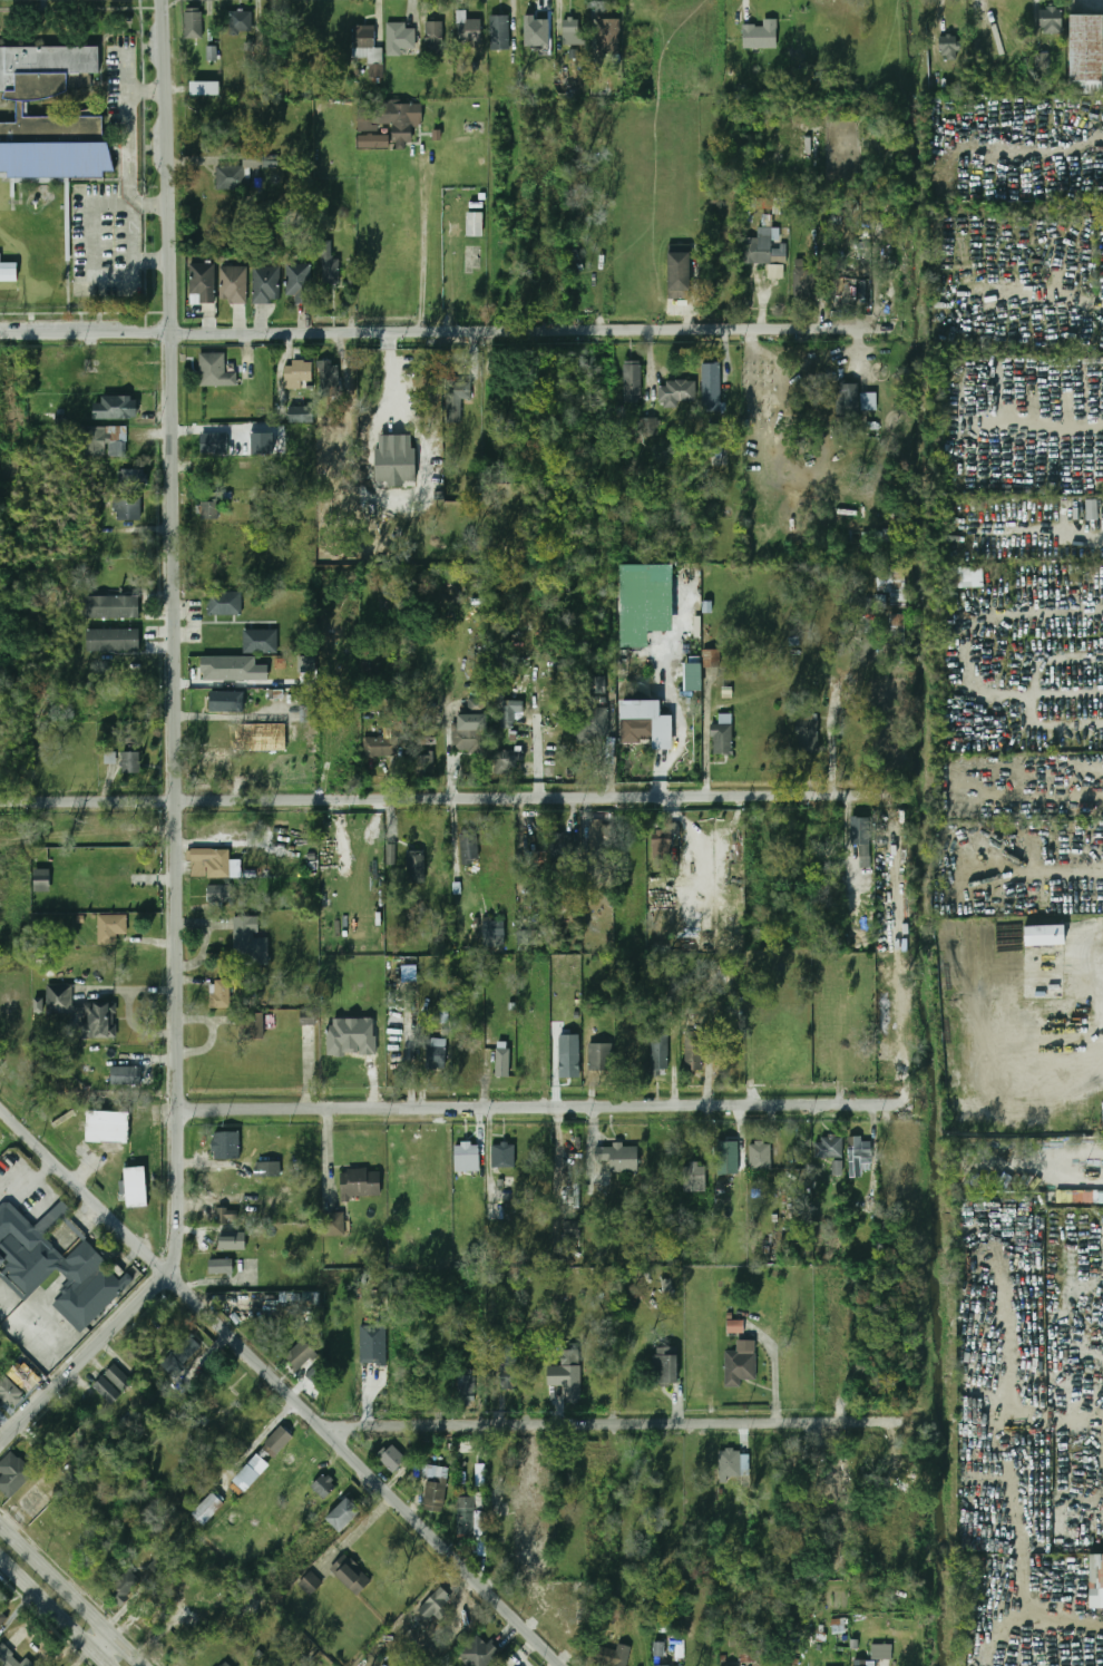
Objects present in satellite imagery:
building: (1050, 20)
building: (240, 22)
building: (193, 23)
building: (537, 27)
building: (468, 28)
building: (573, 30)
building: (499, 32)
building: (609, 35)
building: (760, 35)
building: (435, 36)
building: (400, 39)
building: (948, 46)
building: (367, 48)
building: (1085, 50)
building: (212, 52)
building: (565, 85)
road: (146, 89)
building: (207, 89)
building: (19, 108)
building: (391, 117)
road: (127, 131)
building: (373, 140)
building: (242, 171)
road: (136, 199)
building: (475, 224)
road: (423, 246)
building: (765, 251)
building: (331, 270)
building: (8, 272)
building: (850, 272)
building: (677, 275)
building: (802, 281)
building: (297, 282)
building: (201, 284)
building: (265, 284)
building: (232, 285)
road: (447, 332)
building: (215, 371)
building: (297, 373)
building: (328, 379)
building: (632, 381)
building: (712, 387)
building: (677, 391)
building: (456, 398)
building: (849, 400)
building: (868, 401)
building: (116, 408)
building: (300, 415)
building: (650, 426)
building: (99, 441)
building: (262, 442)
building: (214, 444)
building: (394, 460)
building: (131, 479)
building: (127, 509)
building: (1092, 509)
building: (208, 510)
building: (965, 577)
building: (892, 584)
building: (645, 602)
building: (224, 604)
building: (113, 607)
building: (113, 641)
building: (260, 642)
building: (711, 657)
building: (227, 668)
building: (692, 676)
building: (596, 684)
road: (667, 693)
building: (219, 703)
building: (476, 703)
building: (507, 712)
building: (593, 723)
building: (638, 728)
building: (469, 732)
road: (706, 734)
building: (807, 734)
building: (722, 737)
road: (831, 742)
building: (380, 747)
building: (424, 750)
road: (172, 753)
road: (538, 757)
building: (505, 761)
building: (130, 763)
road: (456, 800)
building: (860, 830)
building: (601, 840)
building: (663, 841)
building: (562, 847)
building: (468, 848)
building: (391, 854)
building: (209, 863)
building: (416, 866)
building: (42, 880)
building: (218, 894)
building: (110, 928)
building: (495, 932)
building: (1042, 936)
building: (527, 941)
building: (247, 942)
building: (219, 994)
building: (58, 998)
building: (38, 1005)
building: (100, 1021)
building: (252, 1025)
building: (351, 1036)
building: (632, 1045)
building: (658, 1052)
building: (693, 1052)
building: (436, 1055)
building: (569, 1055)
building: (601, 1056)
building: (502, 1061)
building: (135, 1074)
road: (544, 1107)
building: (108, 1130)
building: (225, 1146)
building: (831, 1147)
building: (469, 1153)
building: (502, 1154)
building: (859, 1154)
building: (728, 1156)
building: (761, 1156)
building: (619, 1157)
building: (837, 1167)
building: (269, 1168)
building: (230, 1177)
building: (694, 1177)
road: (33, 1178)
building: (361, 1183)
building: (135, 1187)
building: (496, 1211)
building: (226, 1216)
building: (333, 1224)
building: (573, 1230)
building: (232, 1240)
building: (55, 1266)
building: (221, 1267)
building: (734, 1326)
building: (373, 1343)
building: (185, 1351)
building: (301, 1354)
building: (664, 1367)
building: (740, 1367)
building: (508, 1370)
building: (570, 1375)
building: (23, 1377)
building: (110, 1385)
road: (284, 1386)
building: (466, 1386)
building: (9, 1392)
building: (0, 1404)
building: (248, 1419)
road: (618, 1424)
building: (277, 1440)
road: (257, 1442)
building: (38, 1453)
building: (392, 1459)
building: (536, 1460)
building: (734, 1464)
building: (435, 1472)
building: (250, 1473)
building: (12, 1474)
building: (323, 1487)
building: (435, 1495)
building: (497, 1502)
building: (206, 1509)
building: (343, 1514)
building: (468, 1519)
building: (536, 1560)
building: (164, 1563)
building: (350, 1576)
building: (1095, 1580)
building: (310, 1584)
building: (123, 1587)
road: (68, 1599)
building: (433, 1605)
road: (53, 1615)
building: (2, 1616)
road: (100, 1645)
building: (748, 1650)
building: (477, 1652)
building: (881, 1652)
building: (608, 1656)
building: (10, 1658)
building: (863, 1663)
building: (224, 1664)
building: (663, 1665)

